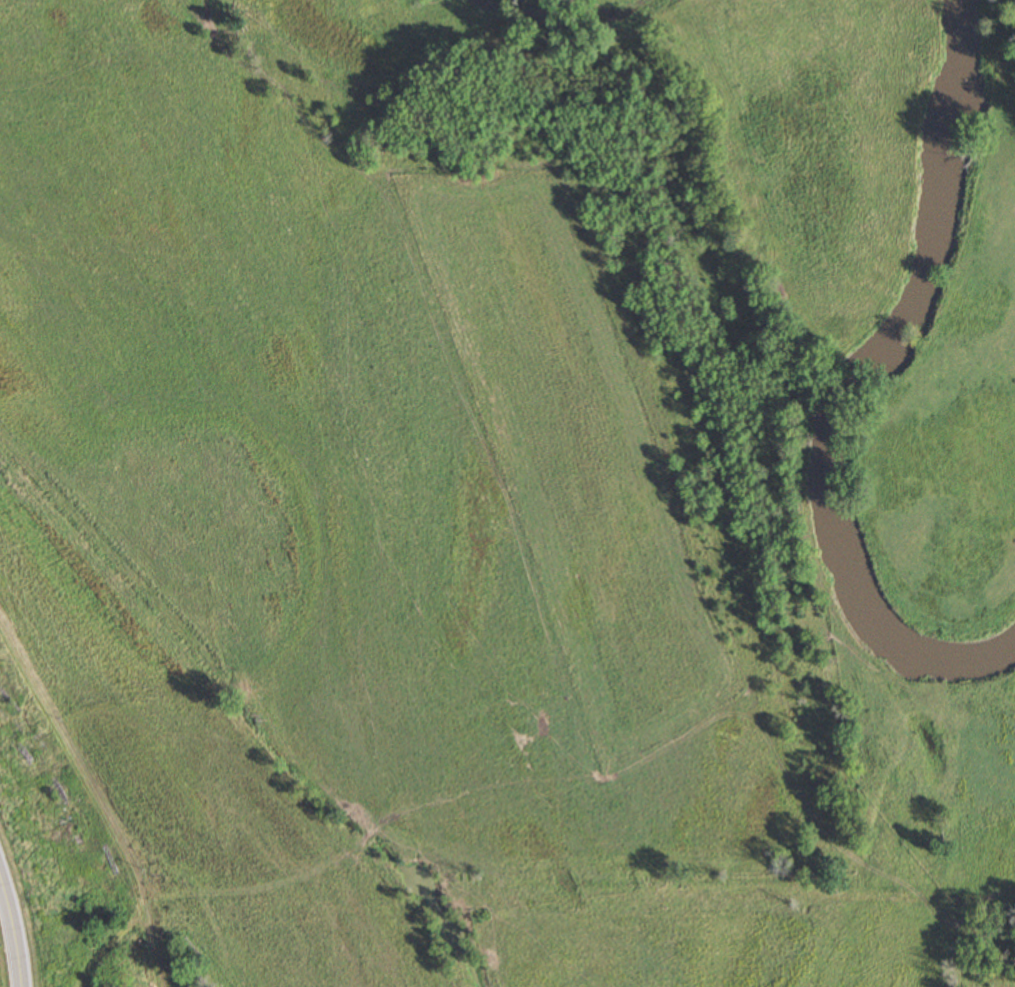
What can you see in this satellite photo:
river: (856, 377)
road: (14, 926)

